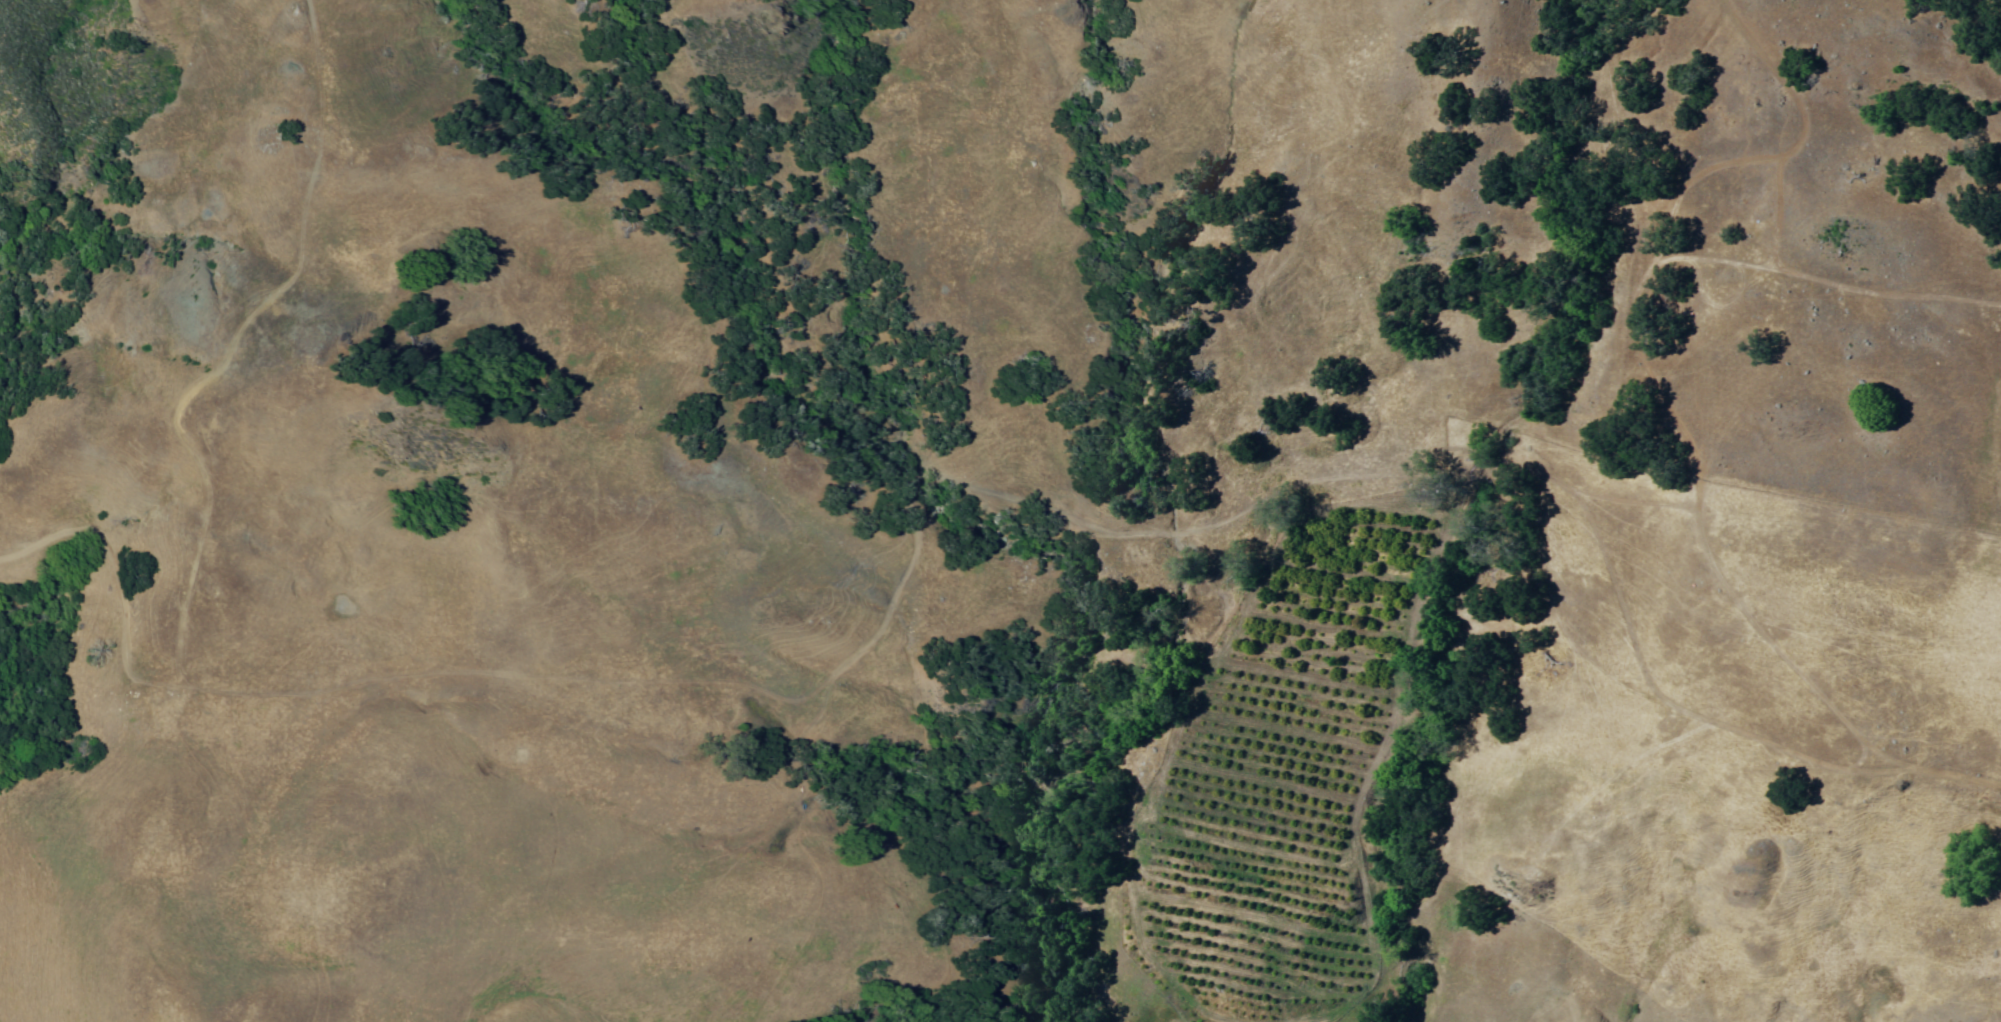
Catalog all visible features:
road: (1664, 400)
road: (198, 462)
crop: (1260, 849)

